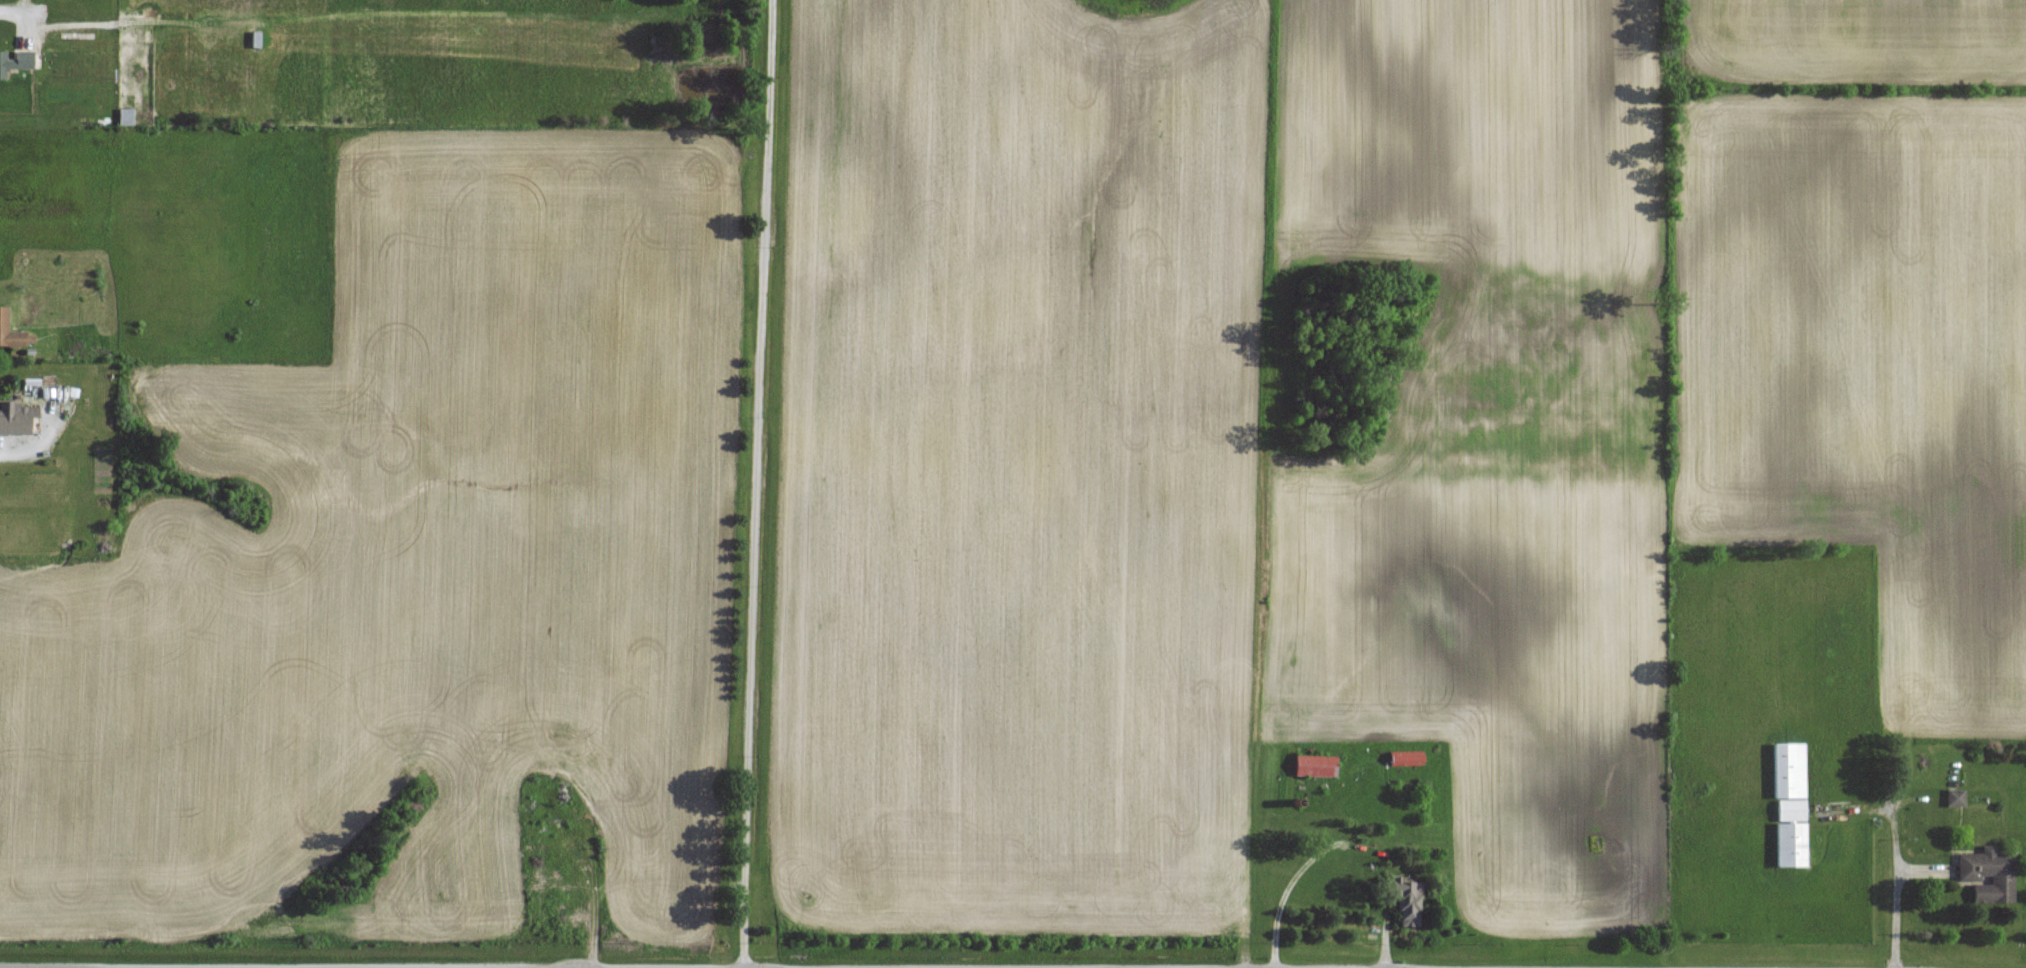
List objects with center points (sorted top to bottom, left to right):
road: (11, 13)
building: (16, 61)
building: (10, 331)
building: (14, 419)
road: (757, 484)
building: (1407, 758)
building: (1316, 764)
building: (1956, 797)
building: (1790, 804)
building: (1989, 874)
road: (1288, 887)
building: (1410, 902)
road: (1893, 919)

